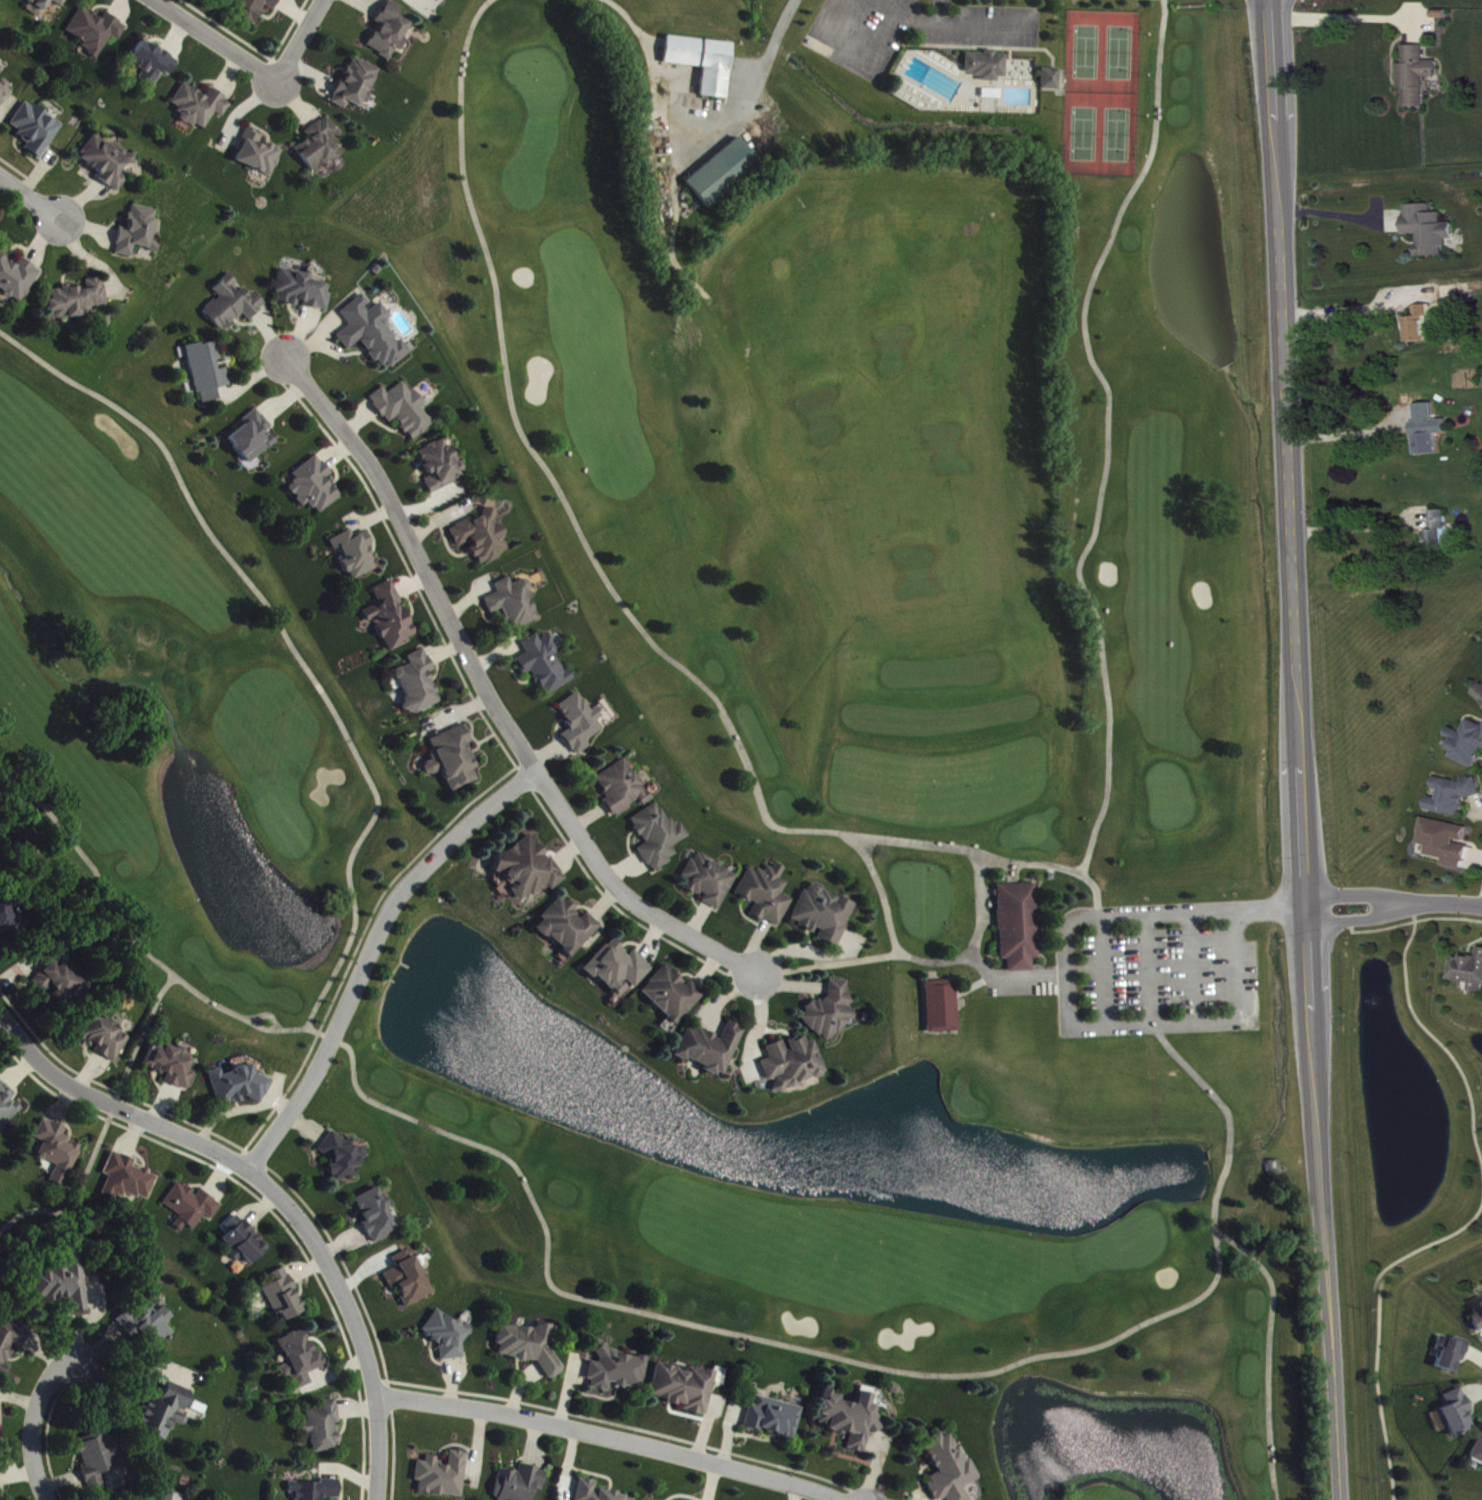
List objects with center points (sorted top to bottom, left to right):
road: (1171, 3)
building: (44, 5)
building: (255, 9)
parking lot: (912, 30)
building: (96, 31)
building: (390, 31)
building: (703, 62)
building: (985, 62)
building: (153, 63)
road: (258, 68)
building: (1050, 76)
building: (1421, 76)
road: (1162, 79)
building: (357, 84)
road: (752, 84)
building: (4, 92)
building: (200, 106)
building: (36, 129)
building: (320, 146)
building: (259, 154)
building: (108, 163)
building: (723, 172)
road: (31, 195)
road: (1330, 214)
building: (1432, 230)
building: (139, 231)
building: (18, 278)
building: (303, 291)
building: (1452, 297)
building: (78, 300)
building: (233, 304)
road: (1340, 309)
building: (1421, 325)
building: (373, 332)
building: (208, 371)
building: (404, 410)
building: (1431, 430)
road: (1349, 432)
building: (254, 437)
building: (441, 465)
building: (315, 486)
road: (1354, 526)
building: (1444, 533)
building: (483, 537)
building: (356, 553)
road: (1089, 556)
road: (606, 575)
building: (515, 603)
building: (391, 619)
road: (290, 637)
building: (544, 665)
building: (419, 682)
park: (785, 689)
building: (1481, 694)
road: (491, 697)
building: (580, 723)
building: (1470, 745)
road: (1303, 749)
building: (454, 758)
building: (623, 788)
building: (1457, 796)
building: (658, 837)
building: (1450, 843)
building: (530, 869)
building: (709, 882)
road: (1095, 883)
building: (766, 894)
road: (1396, 902)
building: (824, 915)
building: (9, 920)
building: (1020, 926)
building: (569, 927)
road: (126, 936)
road: (373, 953)
building: (620, 968)
building: (1470, 971)
building: (63, 984)
road: (1063, 989)
building: (672, 995)
building: (943, 1007)
building: (831, 1012)
road: (1431, 1030)
road: (324, 1035)
building: (105, 1036)
road: (146, 1041)
building: (711, 1049)
building: (792, 1063)
building: (172, 1065)
building: (240, 1086)
building: (7, 1106)
building: (59, 1151)
building: (343, 1157)
building: (128, 1179)
road: (277, 1191)
road: (85, 1202)
building: (192, 1207)
park: (22, 1211)
building: (376, 1216)
building: (245, 1242)
building: (408, 1279)
building: (65, 1285)
building: (285, 1296)
building: (1477, 1313)
road: (1376, 1325)
building: (449, 1337)
building: (12, 1342)
building: (529, 1347)
road: (1274, 1354)
building: (1452, 1354)
building: (301, 1361)
road: (850, 1365)
building: (616, 1371)
building: (683, 1388)
building: (166, 1412)
building: (1458, 1413)
building: (774, 1418)
building: (850, 1418)
road: (35, 1425)
building: (324, 1427)
road: (611, 1438)
building: (1478, 1453)
building: (100, 1459)
building: (947, 1469)
building: (444, 1476)
building: (521, 1484)
building: (0, 1488)
building: (316, 1490)
building: (596, 1492)
building: (164, 1494)

